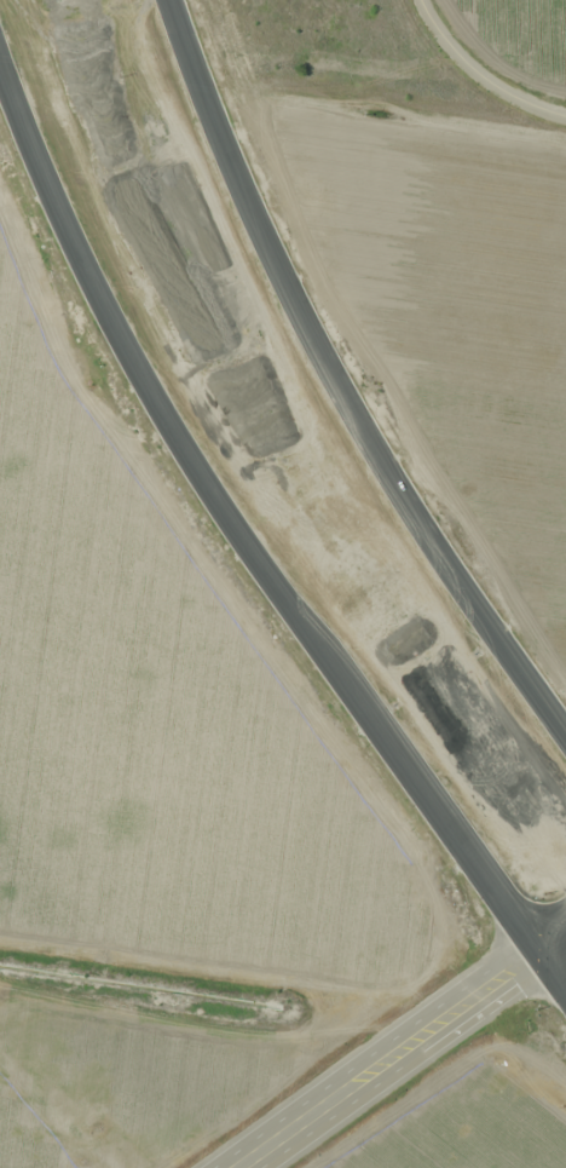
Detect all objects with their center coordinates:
road: (481, 74)
road: (337, 380)
road: (247, 543)
road: (404, 1049)

